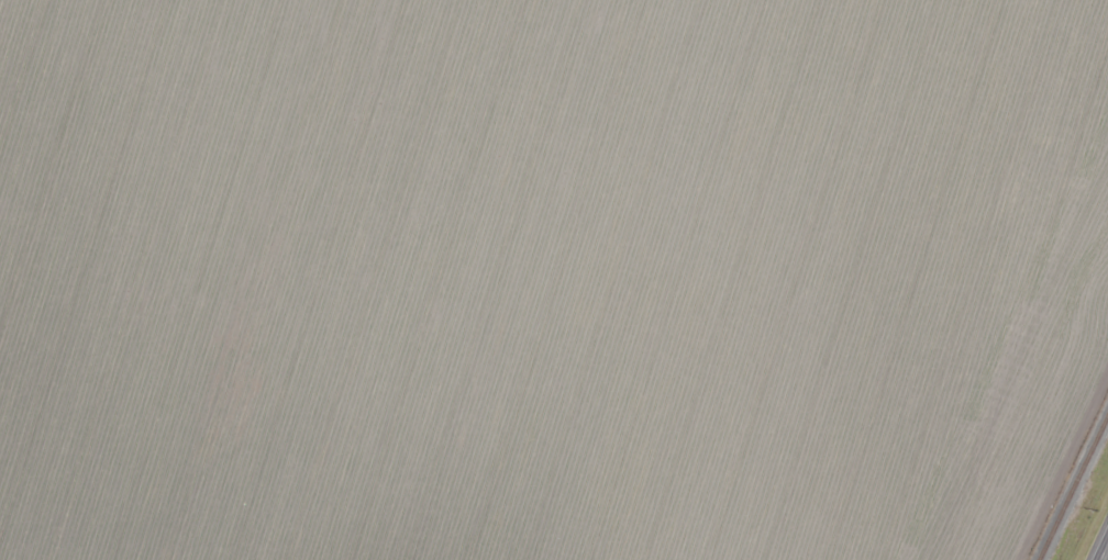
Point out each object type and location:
railway: (1074, 489)
road: (1106, 556)

